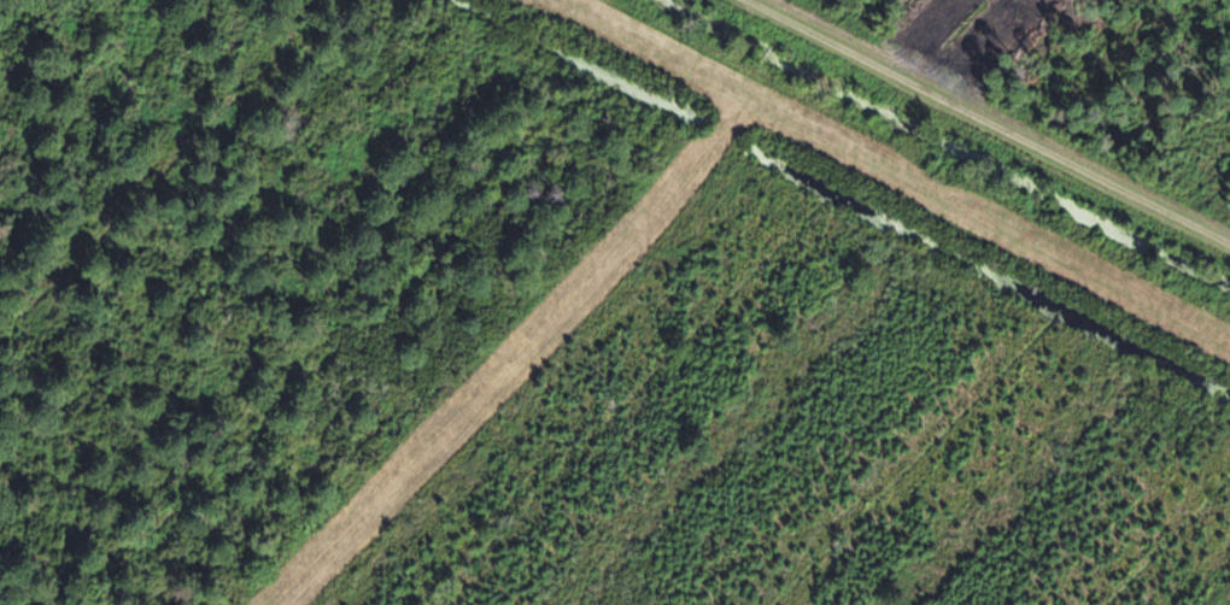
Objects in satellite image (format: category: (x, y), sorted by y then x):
road: (974, 134)

